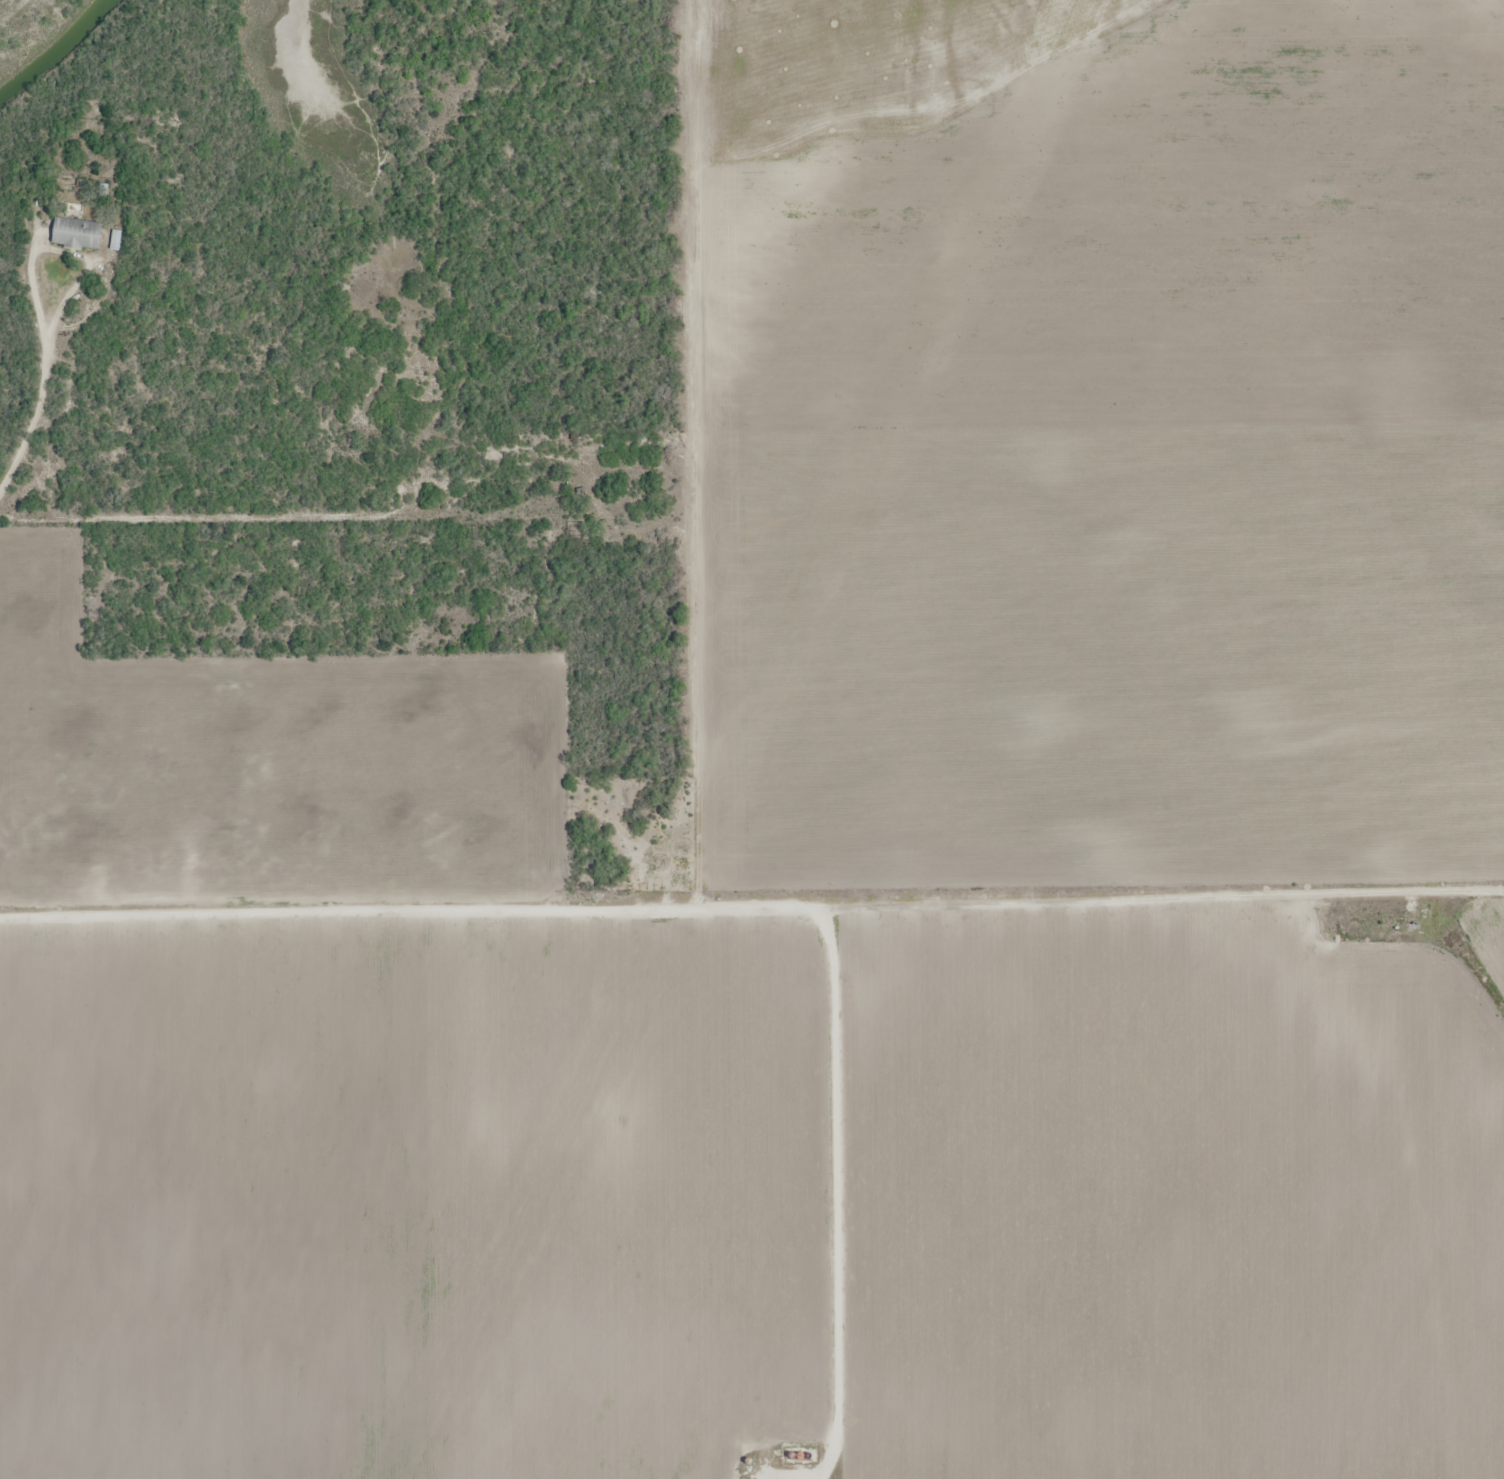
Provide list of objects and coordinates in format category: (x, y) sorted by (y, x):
building: (77, 235)
road: (43, 378)
road: (752, 906)

